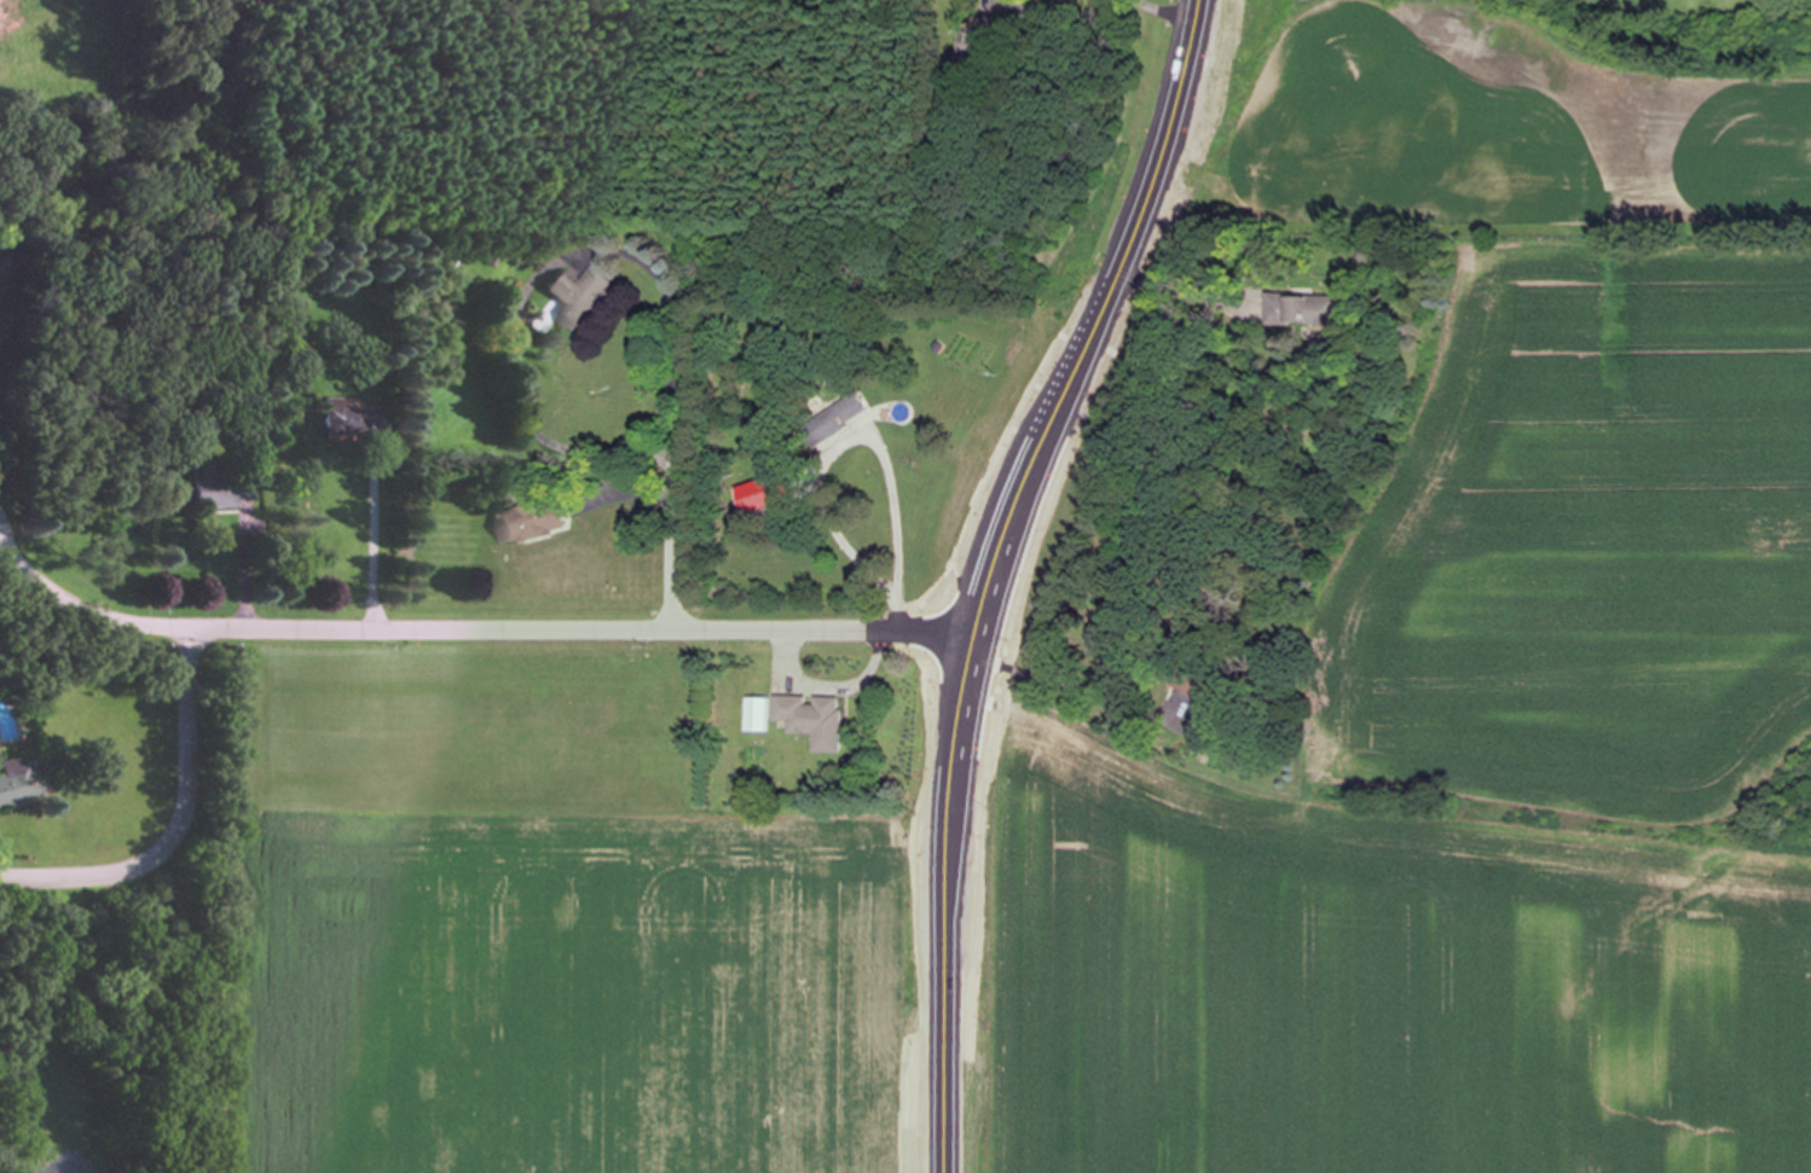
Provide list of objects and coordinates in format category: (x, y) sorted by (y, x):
building: (579, 297)
road: (1180, 297)
building: (1248, 307)
building: (1302, 309)
building: (342, 418)
building: (837, 419)
road: (858, 435)
road: (678, 470)
building: (209, 492)
building: (531, 522)
road: (377, 545)
road: (993, 570)
road: (87, 606)
road: (584, 627)
building: (759, 714)
building: (815, 719)
building: (12, 780)
road: (181, 820)

